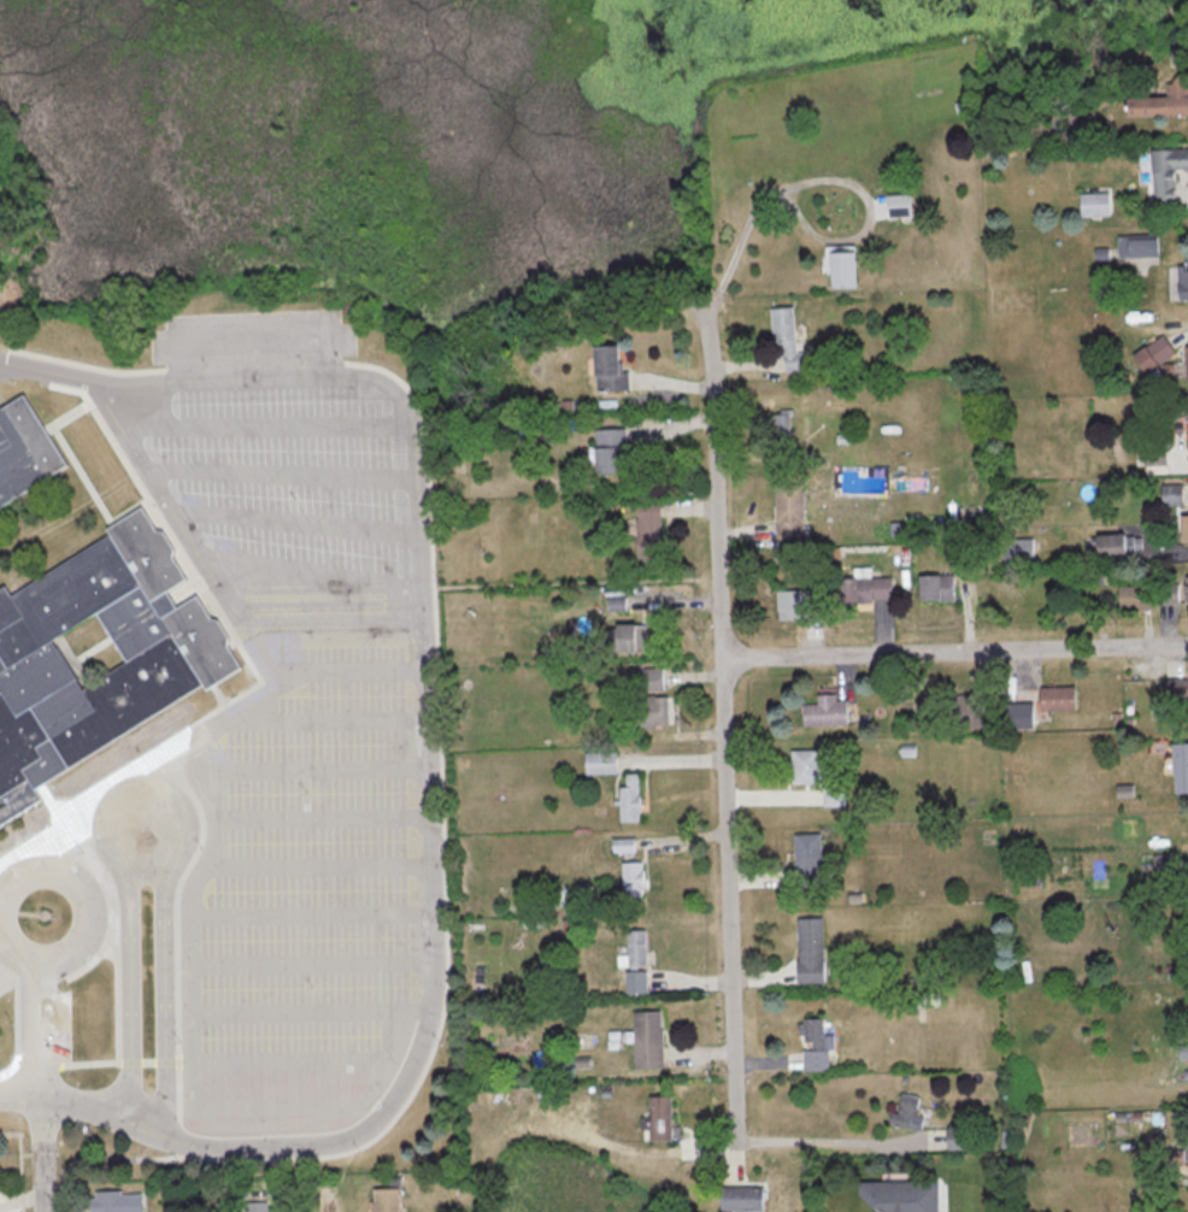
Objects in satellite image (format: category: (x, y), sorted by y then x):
building: (1183, 54)
building: (1165, 100)
building: (1164, 172)
building: (1098, 204)
building: (900, 205)
road: (755, 212)
building: (1140, 247)
building: (845, 266)
building: (1186, 273)
building: (789, 339)
road: (1, 359)
road: (1, 360)
building: (614, 369)
road: (77, 371)
road: (61, 420)
road: (258, 430)
building: (613, 449)
building: (23, 453)
parking lot: (281, 478)
road: (76, 479)
road: (275, 481)
building: (1175, 494)
building: (792, 510)
building: (1186, 526)
road: (288, 529)
building: (651, 529)
building: (1116, 546)
road: (302, 578)
road: (186, 579)
road: (202, 581)
building: (939, 587)
building: (866, 588)
building: (1172, 593)
road: (181, 594)
building: (1137, 598)
building: (794, 604)
building: (630, 637)
road: (955, 649)
building: (95, 658)
road: (354, 676)
building: (653, 678)
building: (1177, 690)
building: (1060, 698)
building: (653, 710)
building: (972, 710)
building: (828, 711)
road: (319, 724)
road: (724, 724)
road: (419, 761)
building: (602, 761)
building: (807, 766)
building: (1181, 767)
road: (306, 775)
road: (142, 789)
building: (631, 796)
building: (835, 796)
road: (55, 800)
road: (77, 805)
road: (313, 823)
building: (625, 845)
building: (811, 858)
road: (201, 869)
road: (312, 871)
building: (634, 878)
parking lot: (296, 892)
road: (304, 917)
road: (81, 920)
road: (167, 931)
building: (637, 948)
building: (813, 951)
road: (107, 961)
road: (86, 965)
road: (305, 967)
building: (1, 981)
building: (637, 982)
road: (4, 988)
road: (289, 1017)
road: (8, 1029)
road: (39, 1035)
building: (651, 1040)
building: (818, 1047)
road: (384, 1054)
road: (119, 1066)
road: (139, 1066)
road: (158, 1066)
road: (282, 1067)
road: (33, 1069)
road: (11, 1096)
road: (265, 1113)
building: (910, 1114)
building: (664, 1119)
building: (963, 1139)
road: (828, 1141)
road: (35, 1158)
building: (746, 1199)
building: (119, 1201)
road: (325, 1204)

